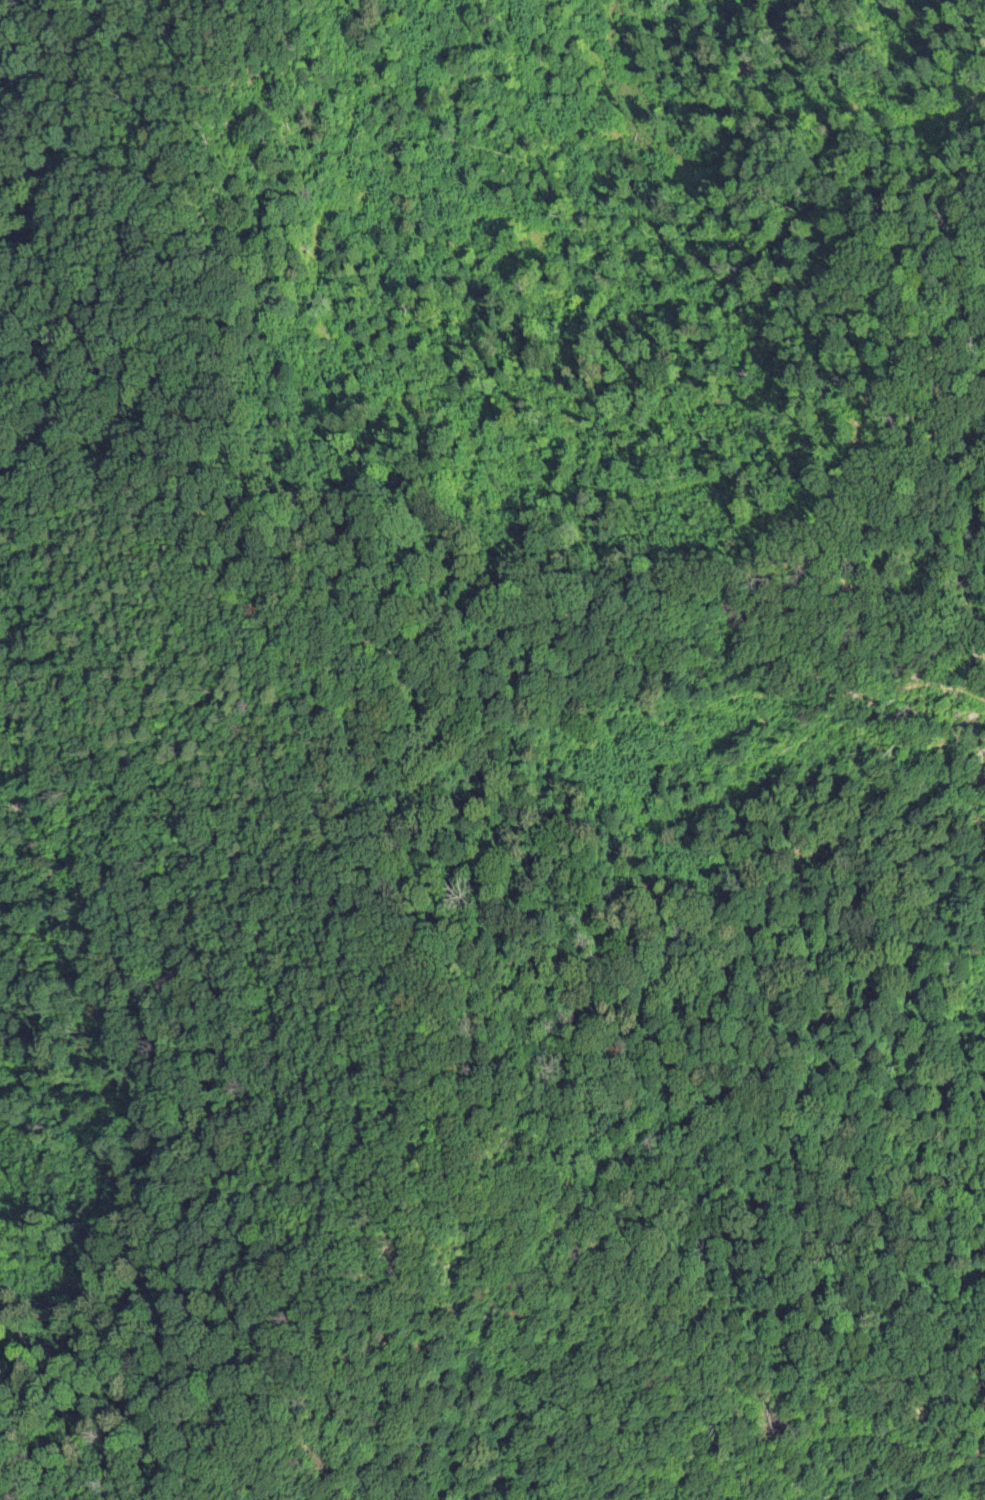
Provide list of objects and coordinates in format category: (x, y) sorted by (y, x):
road: (258, 1403)

